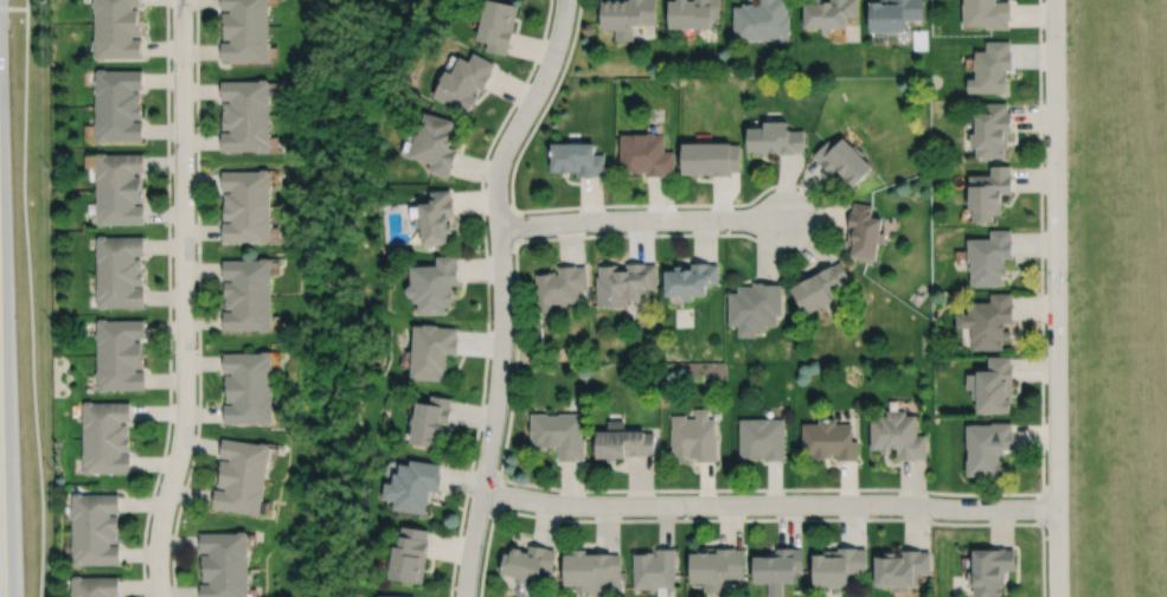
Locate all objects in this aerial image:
road: (13, 7)
building: (692, 13)
building: (828, 13)
building: (987, 13)
building: (895, 14)
building: (628, 15)
building: (761, 20)
building: (498, 25)
building: (117, 28)
building: (245, 30)
street lamp: (1043, 33)
building: (992, 68)
street lamp: (193, 71)
street lamp: (532, 72)
building: (463, 81)
building: (118, 104)
building: (245, 115)
building: (992, 130)
building: (775, 139)
building: (435, 143)
building: (646, 154)
building: (578, 159)
building: (710, 159)
building: (844, 160)
street lamp: (1044, 161)
street lamp: (485, 181)
building: (120, 188)
building: (989, 192)
building: (245, 206)
street lamp: (815, 207)
road: (819, 216)
building: (437, 218)
road: (640, 218)
street lamp: (723, 230)
street lamp: (171, 231)
street lamp: (590, 231)
building: (865, 232)
building: (990, 257)
building: (121, 271)
building: (690, 281)
building: (624, 283)
building: (434, 284)
building: (560, 285)
building: (822, 288)
street lamp: (1045, 289)
road: (501, 291)
road: (487, 293)
road: (515, 293)
building: (246, 295)
road: (30, 298)
road: (1040, 298)
road: (1056, 298)
road: (168, 300)
road: (182, 300)
road: (198, 300)
building: (755, 307)
street lamp: (490, 320)
building: (989, 322)
street lamp: (194, 348)
building: (432, 352)
building: (121, 355)
building: (248, 386)
building: (994, 386)
street lamp: (1045, 416)
building: (430, 422)
building: (559, 435)
building: (694, 436)
building: (898, 436)
building: (104, 437)
building: (762, 438)
building: (828, 441)
building: (622, 442)
building: (988, 449)
road: (6, 454)
street lamp: (474, 461)
building: (241, 474)
street lamp: (161, 475)
building: (413, 483)
road: (770, 488)
street lamp: (796, 492)
street lamp: (590, 493)
road: (769, 503)
street lamp: (690, 516)
road: (767, 518)
street lamp: (932, 518)
building: (92, 526)
street lamp: (1046, 533)
building: (410, 553)
building: (527, 560)
building: (224, 563)
building: (714, 564)
building: (777, 564)
building: (838, 564)
building: (902, 566)
building: (654, 567)
building: (990, 569)
building: (591, 570)
building: (92, 585)
street lamp: (454, 589)
building: (396, 595)

